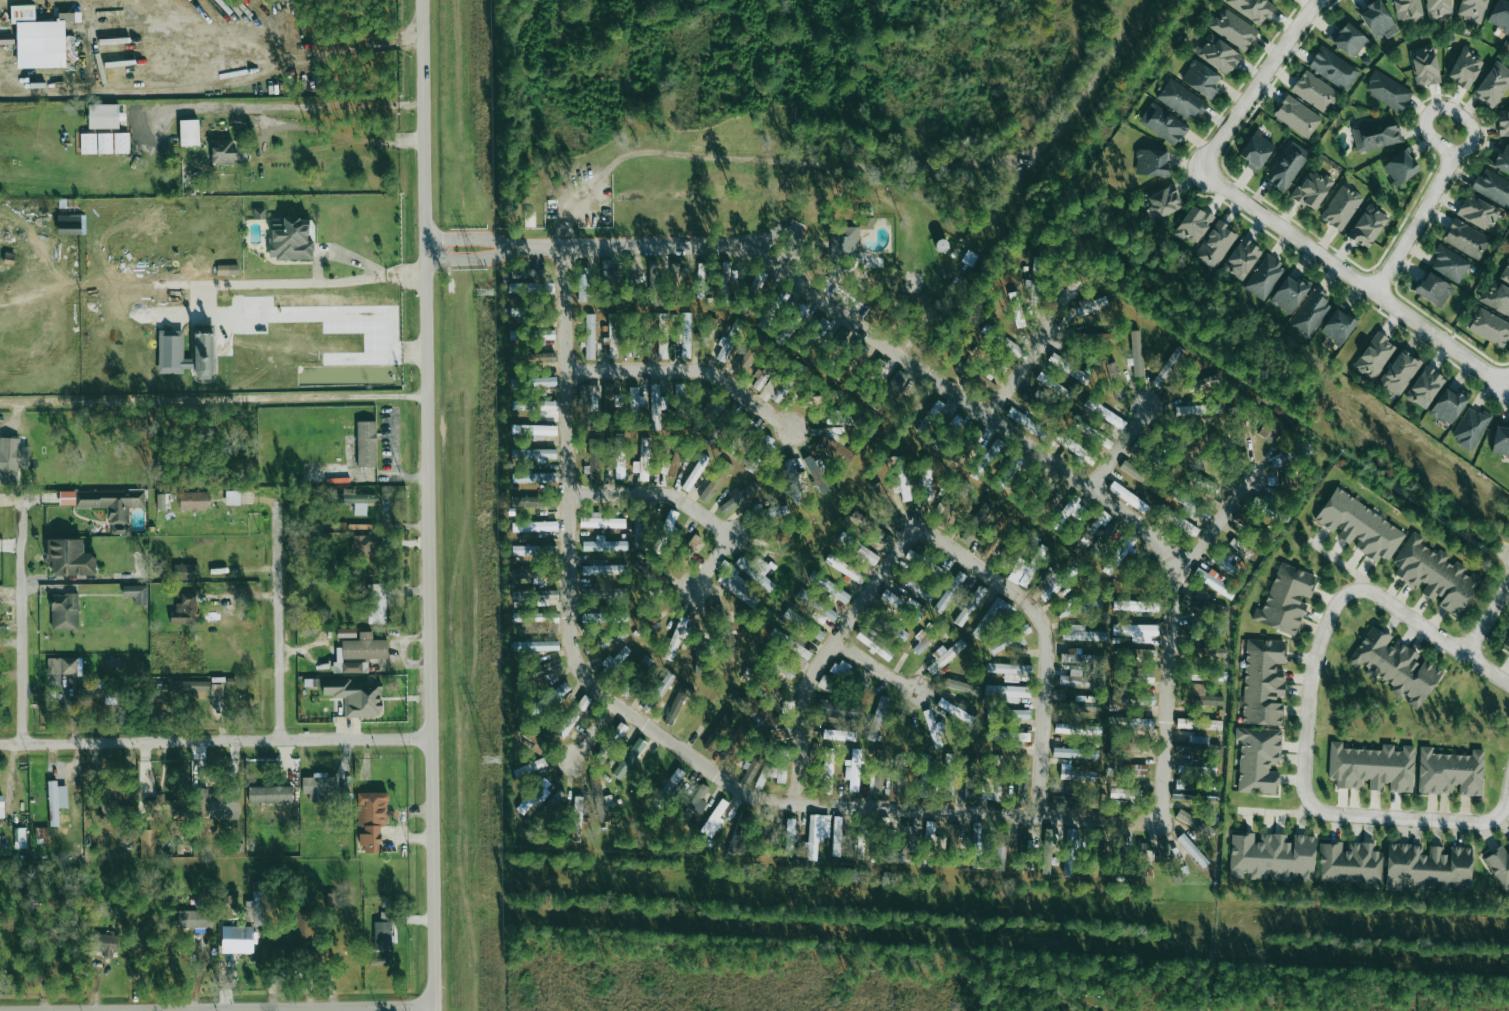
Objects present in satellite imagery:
building: (1276, 0)
building: (1438, 8)
building: (1253, 9)
building: (1472, 9)
building: (1407, 10)
building: (1500, 15)
building: (1377, 20)
building: (1233, 28)
building: (38, 39)
building: (1347, 39)
building: (1508, 43)
building: (1218, 54)
building: (1424, 65)
building: (1464, 67)
building: (1333, 68)
building: (1201, 78)
road: (1259, 81)
building: (1492, 84)
building: (1314, 91)
building: (1387, 91)
building: (1180, 100)
building: (103, 116)
building: (1297, 116)
building: (1163, 123)
building: (1503, 123)
road: (279, 127)
building: (189, 132)
building: (1376, 134)
building: (104, 142)
building: (1256, 150)
building: (222, 151)
road: (1452, 160)
building: (1502, 160)
building: (1151, 162)
building: (1286, 165)
building: (1401, 166)
building: (1492, 187)
building: (1312, 189)
road: (577, 202)
building: (1161, 202)
building: (1341, 207)
building: (258, 212)
building: (1478, 212)
building: (866, 223)
building: (69, 224)
building: (1193, 224)
road: (788, 226)
building: (1367, 226)
road: (469, 237)
building: (290, 239)
building: (1466, 239)
building: (846, 242)
building: (1214, 244)
building: (1508, 247)
building: (1241, 258)
road: (469, 259)
building: (1449, 263)
road: (377, 268)
building: (607, 268)
building: (227, 269)
building: (676, 270)
building: (528, 272)
building: (653, 273)
building: (1505, 273)
building: (1264, 276)
building: (725, 278)
road: (1354, 278)
road: (283, 282)
building: (630, 282)
building: (583, 284)
building: (530, 288)
building: (1433, 289)
building: (1034, 290)
power tower: (483, 291)
building: (1065, 291)
building: (1290, 292)
building: (1495, 296)
building: (775, 307)
building: (1016, 309)
building: (1310, 312)
building: (791, 324)
building: (1338, 325)
building: (821, 326)
building: (1489, 326)
building: (708, 332)
building: (547, 334)
building: (612, 335)
building: (686, 335)
building: (589, 336)
building: (728, 342)
building: (662, 344)
building: (1009, 345)
building: (171, 352)
building: (203, 352)
building: (1136, 352)
building: (1374, 356)
building: (542, 357)
building: (746, 358)
building: (1168, 366)
building: (877, 367)
road: (687, 369)
building: (1399, 372)
road: (1017, 373)
building: (759, 378)
building: (979, 379)
building: (542, 381)
building: (1115, 382)
building: (1053, 385)
building: (1425, 387)
building: (779, 394)
road: (213, 398)
building: (589, 398)
building: (635, 400)
building: (679, 400)
building: (1448, 404)
building: (538, 405)
road: (974, 405)
building: (655, 406)
building: (712, 406)
building: (947, 408)
building: (1197, 409)
building: (747, 425)
building: (1270, 427)
building: (1470, 427)
building: (534, 430)
building: (1501, 440)
building: (767, 441)
building: (1104, 441)
building: (366, 443)
building: (1075, 448)
road: (1120, 448)
building: (834, 449)
building: (533, 453)
building: (619, 456)
building: (989, 456)
building: (592, 457)
building: (12, 459)
building: (644, 463)
building: (674, 464)
building: (1013, 468)
building: (1133, 470)
building: (695, 472)
building: (816, 472)
building: (534, 477)
building: (901, 478)
building: (926, 478)
building: (715, 482)
building: (1203, 482)
building: (881, 496)
building: (232, 497)
building: (739, 497)
building: (163, 500)
building: (194, 500)
building: (357, 501)
building: (527, 501)
road: (685, 503)
building: (107, 504)
road: (428, 505)
building: (774, 511)
building: (601, 521)
building: (977, 521)
building: (1099, 522)
building: (1186, 525)
building: (534, 526)
road: (1214, 526)
building: (1359, 526)
building: (638, 531)
building: (664, 531)
building: (874, 532)
building: (693, 541)
building: (604, 544)
building: (364, 545)
building: (534, 550)
building: (1121, 553)
building: (69, 557)
building: (924, 562)
road: (1340, 562)
building: (844, 568)
building: (604, 569)
building: (756, 570)
building: (186, 571)
building: (1021, 572)
building: (527, 574)
building: (1435, 575)
building: (1209, 578)
building: (737, 585)
building: (831, 588)
building: (917, 588)
building: (619, 591)
building: (949, 591)
building: (136, 593)
building: (520, 595)
building: (544, 596)
building: (891, 598)
building: (1286, 599)
building: (376, 603)
building: (1135, 604)
building: (970, 605)
building: (1078, 607)
building: (1211, 607)
building: (819, 608)
building: (913, 608)
building: (185, 609)
road: (278, 610)
building: (64, 611)
road: (22, 613)
building: (592, 617)
building: (537, 619)
road: (1486, 620)
building: (723, 623)
building: (803, 623)
building: (1211, 626)
building: (892, 627)
building: (1136, 631)
building: (346, 632)
building: (1083, 634)
road: (1436, 634)
road: (1045, 637)
building: (676, 638)
building: (923, 639)
building: (1008, 639)
building: (790, 643)
building: (874, 644)
building: (1506, 644)
building: (535, 645)
building: (359, 652)
building: (1213, 652)
road: (826, 653)
building: (1142, 653)
building: (945, 656)
building: (614, 661)
building: (780, 664)
building: (61, 665)
building: (551, 665)
building: (1396, 665)
road: (874, 666)
building: (840, 668)
building: (1010, 670)
building: (1083, 670)
building: (1138, 674)
building: (1263, 681)
building: (825, 682)
building: (858, 683)
building: (664, 684)
road: (1311, 684)
building: (188, 685)
building: (959, 685)
building: (625, 688)
building: (216, 689)
building: (553, 694)
building: (1203, 695)
building: (356, 696)
building: (1129, 699)
building: (1084, 703)
building: (675, 706)
building: (840, 709)
building: (1018, 714)
building: (573, 716)
building: (877, 718)
building: (1129, 722)
building: (1185, 723)
building: (934, 728)
building: (1077, 728)
building: (619, 730)
building: (718, 730)
road: (595, 731)
road: (656, 731)
building: (834, 733)
road: (215, 738)
building: (1074, 751)
building: (629, 758)
building: (1258, 759)
power tower: (491, 760)
building: (828, 762)
building: (530, 767)
building: (1372, 767)
building: (764, 770)
building: (900, 770)
building: (1133, 770)
building: (853, 771)
building: (1450, 772)
building: (877, 773)
building: (1076, 774)
building: (924, 775)
building: (671, 783)
building: (948, 783)
building: (969, 785)
building: (318, 786)
building: (990, 790)
building: (1125, 791)
building: (270, 794)
building: (533, 796)
building: (698, 799)
building: (1071, 800)
building: (56, 801)
building: (601, 802)
building: (215, 803)
building: (554, 803)
building: (163, 804)
road: (1505, 805)
building: (1, 806)
road: (1277, 812)
road: (1402, 816)
building: (371, 819)
building: (577, 819)
building: (714, 819)
building: (1194, 822)
building: (930, 827)
building: (816, 833)
building: (739, 834)
building: (42, 835)
building: (977, 835)
building: (766, 836)
building: (836, 836)
building: (20, 837)
building: (789, 837)
building: (147, 843)
building: (1192, 850)
building: (1143, 851)
building: (1000, 853)
building: (1168, 853)
building: (1273, 855)
building: (1349, 862)
building: (1499, 864)
building: (1428, 867)
building: (331, 900)
building: (385, 902)
building: (254, 908)
building: (385, 916)
building: (190, 918)
building: (303, 924)
building: (382, 934)
building: (237, 940)
building: (103, 942)
road: (263, 1008)

